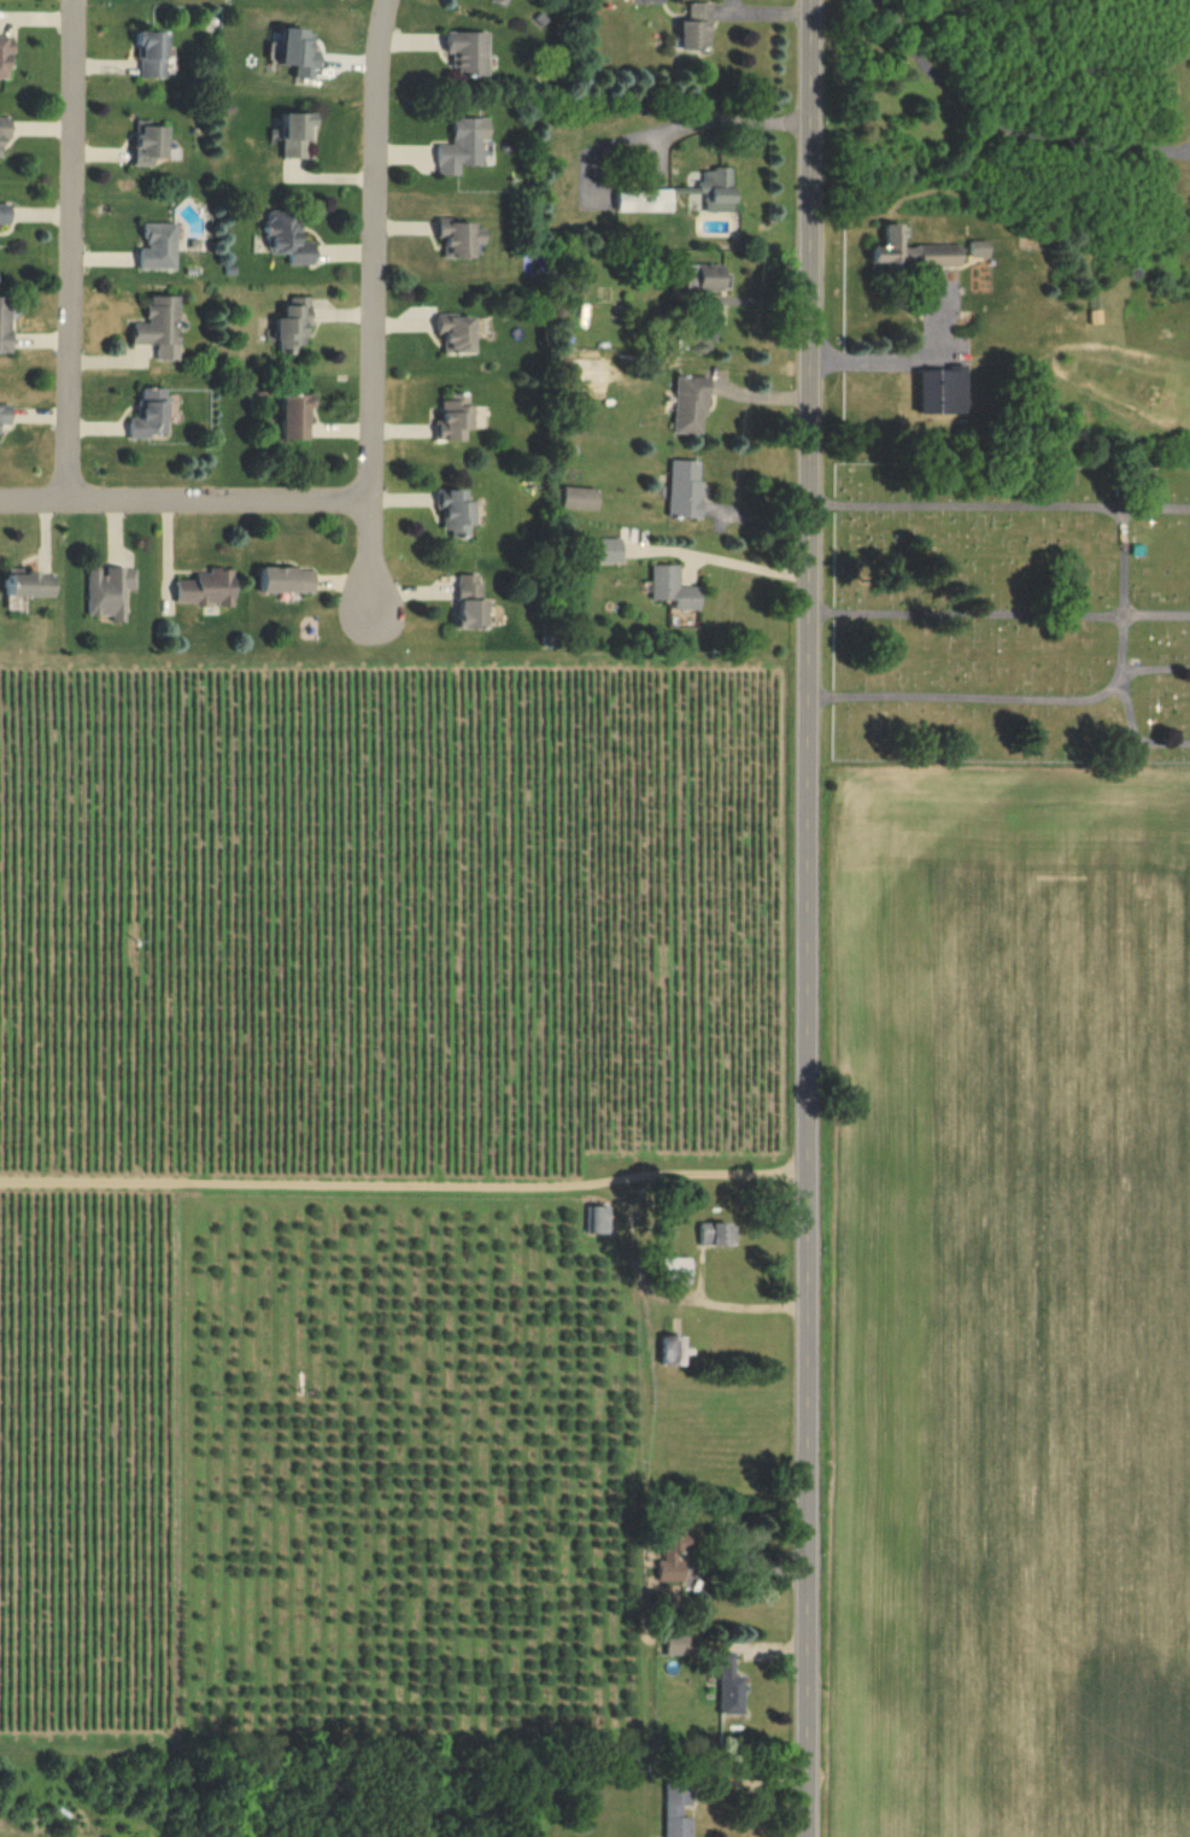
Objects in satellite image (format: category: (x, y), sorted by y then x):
building: (502, 4)
road: (769, 8)
building: (697, 30)
building: (469, 54)
building: (4, 55)
building: (292, 55)
building: (152, 57)
road: (720, 121)
road: (1006, 127)
building: (4, 133)
building: (299, 138)
building: (151, 146)
road: (1189, 147)
building: (463, 148)
road: (1189, 150)
building: (717, 193)
building: (646, 204)
building: (5, 215)
building: (289, 236)
building: (461, 239)
building: (977, 246)
building: (160, 248)
road: (74, 251)
building: (909, 251)
building: (704, 279)
road: (373, 309)
building: (160, 326)
building: (295, 327)
building: (708, 328)
building: (5, 329)
building: (459, 333)
road: (905, 355)
building: (939, 387)
building: (692, 406)
building: (6, 416)
building: (153, 417)
building: (298, 417)
building: (456, 420)
building: (686, 491)
building: (582, 502)
road: (186, 503)
road: (1001, 510)
building: (458, 515)
building: (612, 554)
road: (746, 563)
building: (291, 584)
building: (31, 586)
building: (212, 591)
building: (675, 591)
building: (112, 596)
building: (473, 605)
road: (1001, 619)
road: (1061, 703)
road: (1127, 703)
road: (810, 918)
building: (597, 1217)
building: (716, 1232)
building: (675, 1268)
crop: (1022, 1336)
building: (674, 1552)
building: (676, 1643)
building: (729, 1684)
building: (676, 1809)

